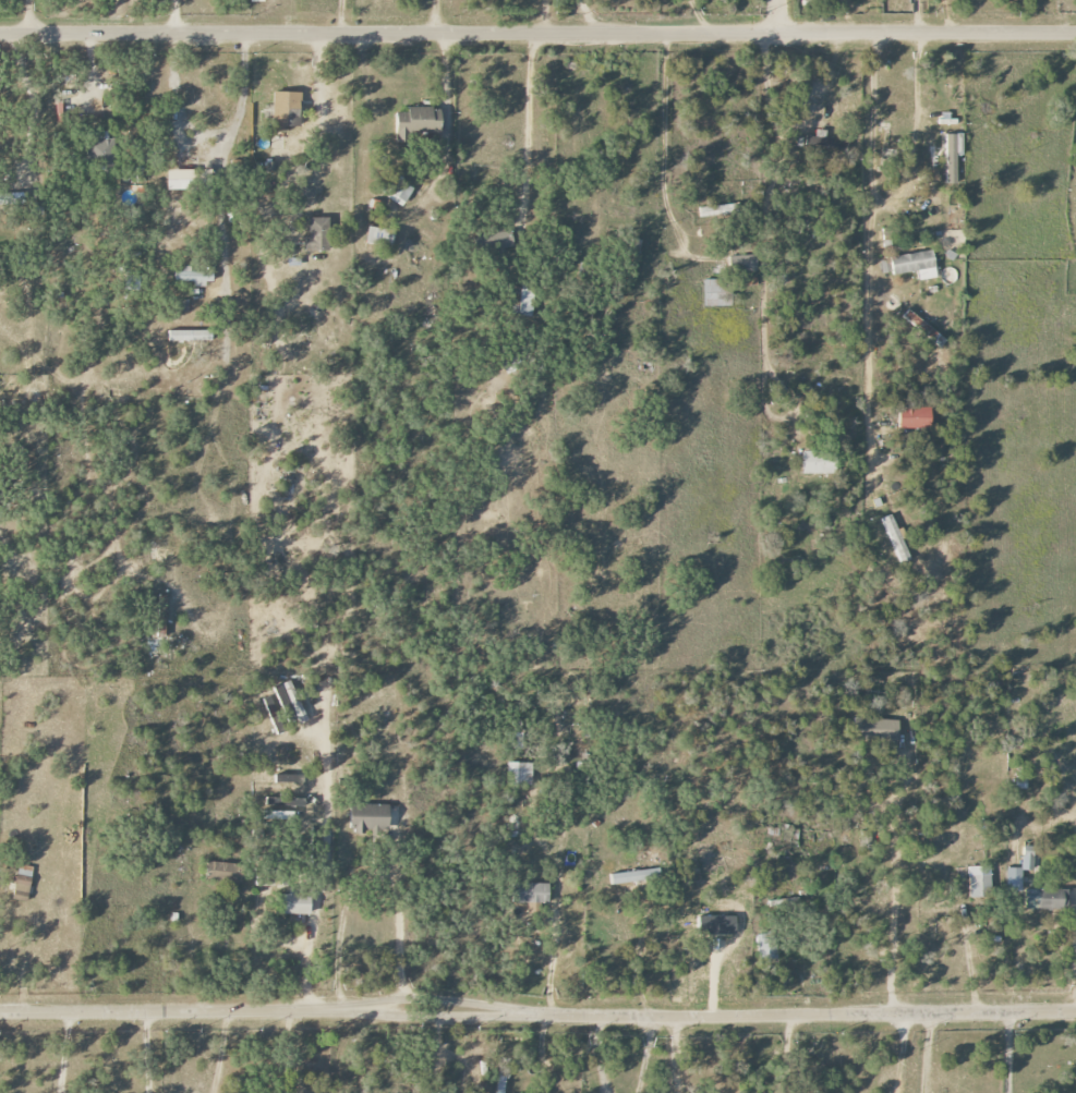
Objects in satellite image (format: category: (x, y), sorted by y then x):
building: (256, 1)
road: (941, 17)
road: (28, 19)
road: (176, 19)
road: (340, 19)
road: (433, 19)
road: (779, 19)
road: (543, 20)
road: (590, 20)
road: (537, 39)
road: (444, 95)
road: (822, 95)
building: (286, 109)
road: (523, 122)
building: (418, 123)
road: (914, 131)
building: (821, 141)
building: (97, 154)
building: (952, 156)
road: (223, 161)
building: (932, 175)
building: (189, 179)
building: (398, 192)
building: (11, 198)
road: (766, 207)
building: (718, 210)
building: (317, 234)
building: (379, 236)
building: (500, 241)
road: (871, 251)
building: (740, 264)
building: (914, 265)
building: (192, 276)
building: (715, 292)
building: (520, 301)
building: (923, 329)
building: (190, 336)
building: (915, 418)
building: (818, 462)
building: (895, 538)
building: (290, 700)
building: (274, 715)
building: (874, 729)
building: (515, 740)
building: (518, 773)
building: (289, 779)
building: (267, 789)
building: (277, 810)
building: (368, 817)
road: (324, 852)
road: (912, 852)
building: (1019, 870)
building: (225, 872)
road: (374, 873)
building: (632, 876)
building: (979, 881)
building: (23, 882)
building: (531, 892)
building: (1045, 899)
building: (292, 902)
building: (765, 946)
road: (1075, 949)
road: (638, 951)
road: (24, 958)
road: (537, 1013)
road: (219, 1051)
road: (63, 1052)
road: (146, 1052)
road: (900, 1052)
road: (927, 1052)
road: (1006, 1052)
road: (673, 1054)
building: (501, 1079)

